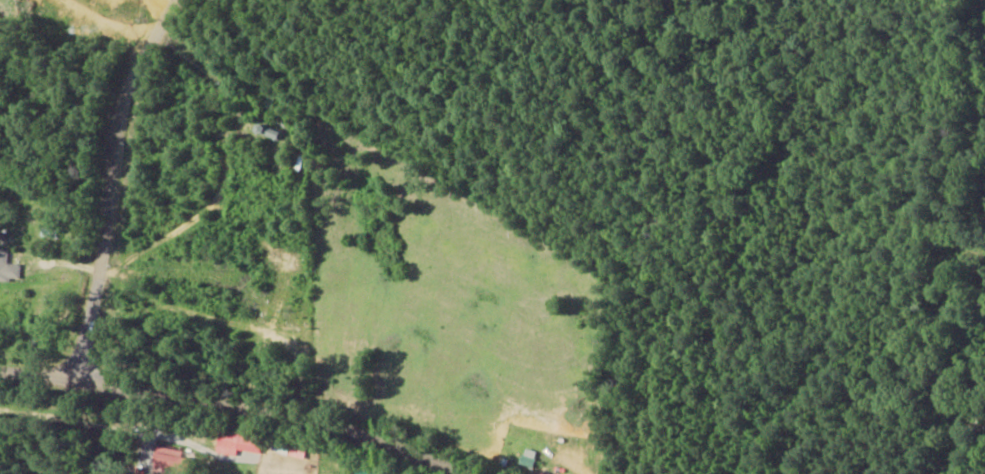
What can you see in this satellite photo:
road: (114, 194)
building: (9, 266)
road: (185, 432)
building: (236, 441)

